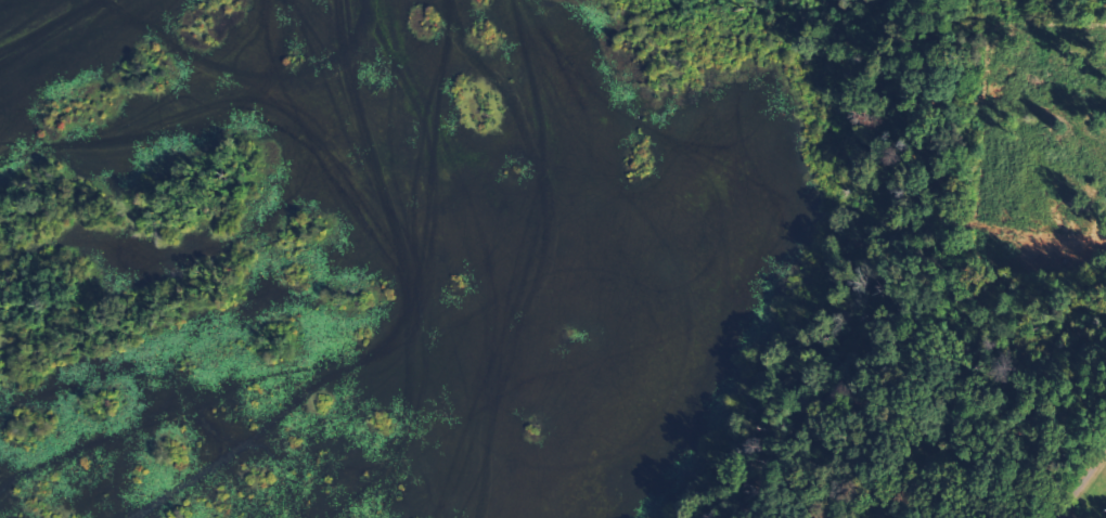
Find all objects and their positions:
road: (1078, 483)

